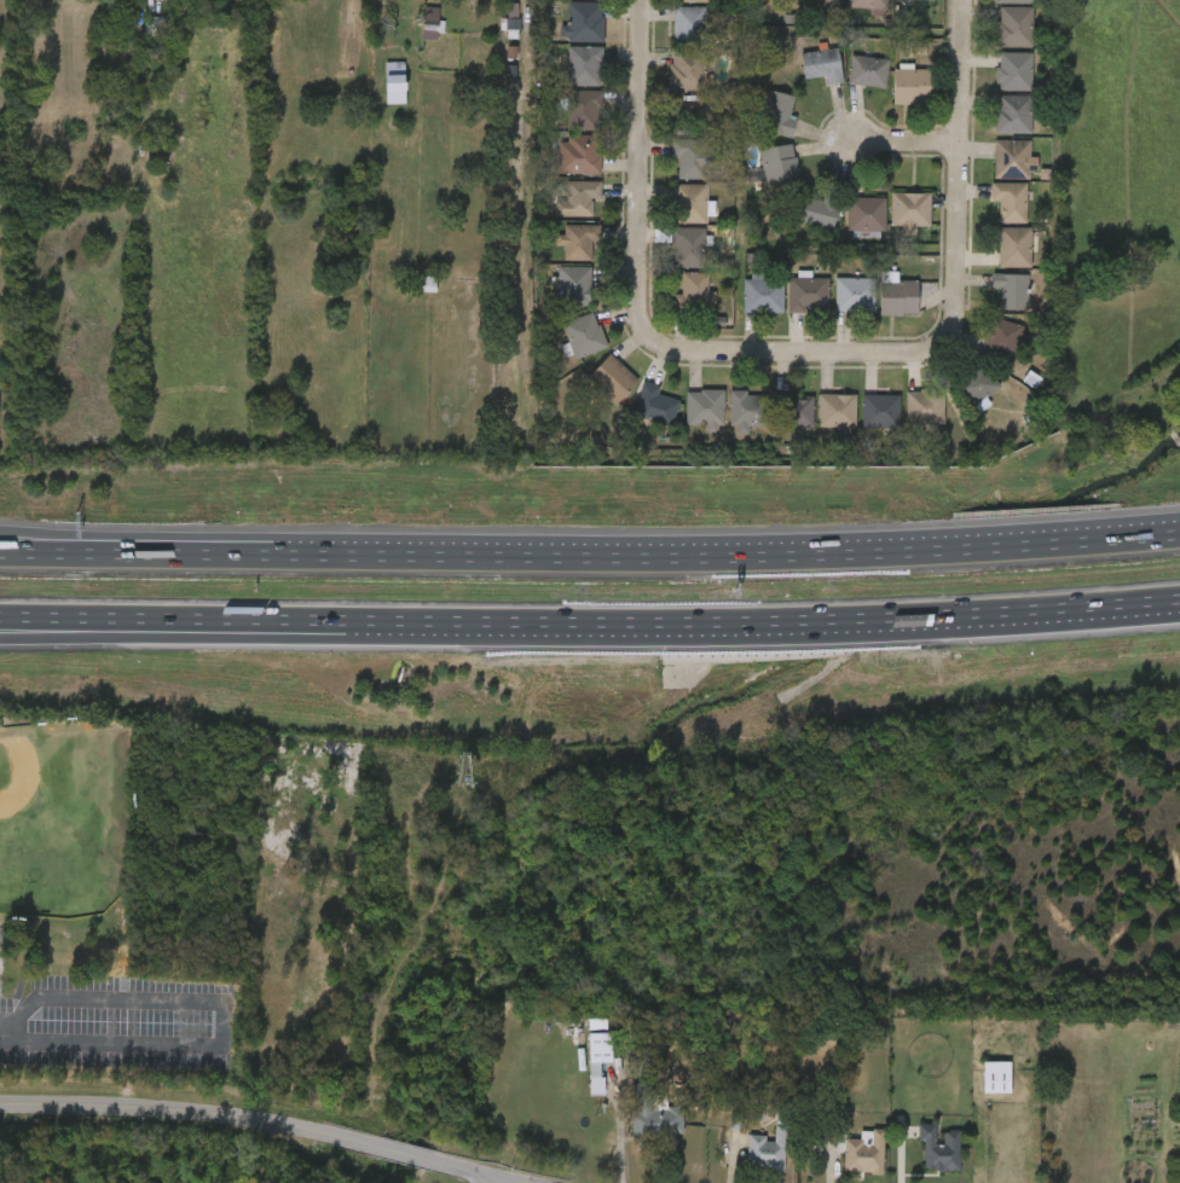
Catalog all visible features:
building: (693, 1)
building: (1013, 1)
building: (557, 4)
building: (820, 4)
building: (864, 4)
building: (896, 5)
building: (676, 7)
building: (584, 23)
building: (156, 25)
building: (688, 27)
building: (1014, 27)
building: (565, 35)
building: (669, 37)
building: (996, 39)
building: (412, 42)
building: (821, 64)
building: (584, 66)
building: (687, 71)
building: (868, 71)
building: (1013, 71)
building: (803, 77)
building: (566, 79)
building: (849, 83)
building: (995, 83)
building: (667, 85)
building: (912, 86)
building: (376, 94)
building: (892, 99)
building: (583, 111)
building: (777, 112)
building: (1012, 114)
building: (565, 122)
building: (759, 126)
building: (994, 126)
road: (898, 141)
building: (578, 155)
building: (690, 158)
building: (1011, 160)
road: (631, 164)
building: (779, 164)
building: (560, 168)
road: (948, 172)
building: (994, 172)
building: (672, 173)
building: (759, 178)
building: (578, 198)
building: (1010, 201)
building: (689, 203)
building: (559, 210)
building: (817, 210)
building: (909, 210)
building: (866, 214)
building: (991, 214)
building: (671, 216)
building: (891, 224)
building: (846, 226)
building: (577, 242)
building: (1013, 247)
building: (688, 248)
building: (670, 253)
building: (560, 254)
building: (995, 260)
building: (574, 286)
building: (1010, 291)
building: (694, 294)
building: (762, 295)
building: (808, 295)
building: (855, 295)
building: (554, 297)
building: (898, 297)
building: (990, 302)
building: (676, 305)
building: (744, 307)
building: (789, 307)
building: (835, 307)
building: (879, 308)
building: (583, 335)
building: (1000, 340)
building: (565, 348)
road: (786, 352)
building: (983, 352)
building: (615, 379)
building: (974, 383)
building: (592, 392)
building: (959, 401)
building: (654, 405)
building: (925, 405)
building: (704, 406)
building: (748, 410)
building: (880, 410)
building: (793, 411)
building: (835, 411)
building: (1030, 414)
building: (636, 417)
building: (906, 421)
building: (686, 422)
building: (783, 423)
building: (817, 423)
building: (725, 424)
building: (861, 424)
road: (937, 532)
road: (236, 535)
road: (937, 546)
road: (236, 549)
road: (583, 549)
road: (1122, 603)
road: (1122, 607)
road: (280, 620)
road: (814, 622)
road: (280, 637)
park: (65, 899)
road: (224, 1011)
road: (2, 1039)
building: (602, 1059)
building: (578, 1072)
building: (1002, 1077)
building: (977, 1089)
building: (646, 1091)
road: (248, 1121)
building: (638, 1131)
building: (944, 1148)
building: (770, 1149)
building: (868, 1153)
road: (901, 1153)
building: (920, 1160)
building: (748, 1162)
building: (845, 1164)

